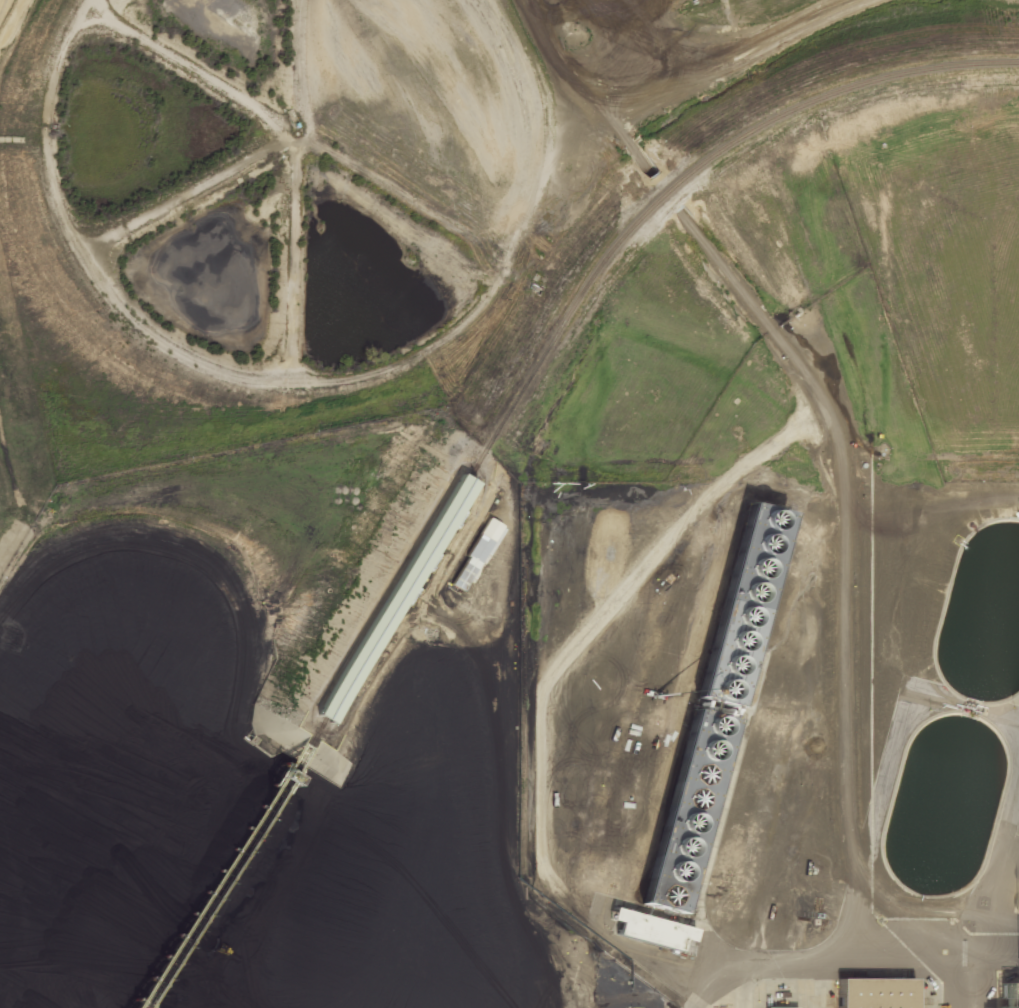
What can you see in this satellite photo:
road: (624, 138)
railway: (677, 180)
power plant: (509, 504)
building: (475, 553)
railway: (392, 599)
building: (393, 599)
road: (846, 601)
building: (701, 705)
railway: (234, 864)
building: (647, 929)
building: (869, 993)
building: (779, 1007)

